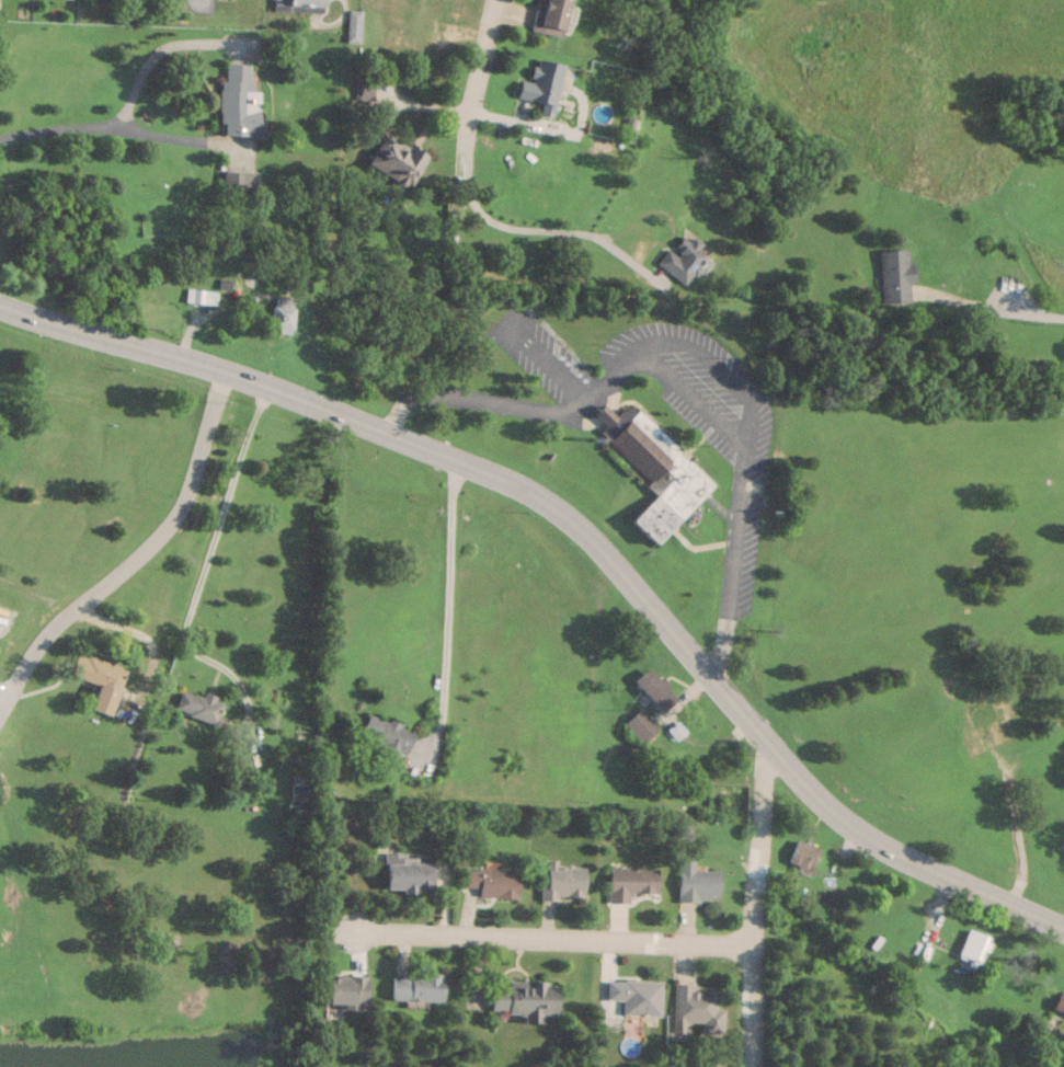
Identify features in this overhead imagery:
building: (152, 0)
building: (298, 5)
building: (548, 16)
building: (353, 26)
road: (156, 51)
road: (479, 61)
building: (540, 84)
building: (238, 101)
road: (111, 126)
building: (396, 159)
building: (238, 182)
road: (518, 229)
building: (682, 260)
building: (894, 276)
building: (199, 296)
building: (281, 313)
road: (1033, 317)
road: (668, 382)
building: (653, 469)
road: (585, 533)
road: (136, 554)
road: (25, 590)
road: (445, 609)
road: (145, 636)
building: (98, 678)
building: (655, 690)
building: (197, 705)
building: (982, 712)
building: (1049, 714)
building: (642, 726)
building: (385, 736)
building: (802, 854)
building: (405, 874)
building: (560, 881)
building: (491, 882)
building: (629, 882)
building: (695, 883)
road: (744, 903)
road: (549, 941)
building: (974, 945)
building: (415, 988)
building: (345, 991)
building: (634, 996)
building: (524, 1000)
building: (1060, 1001)
building: (695, 1010)

